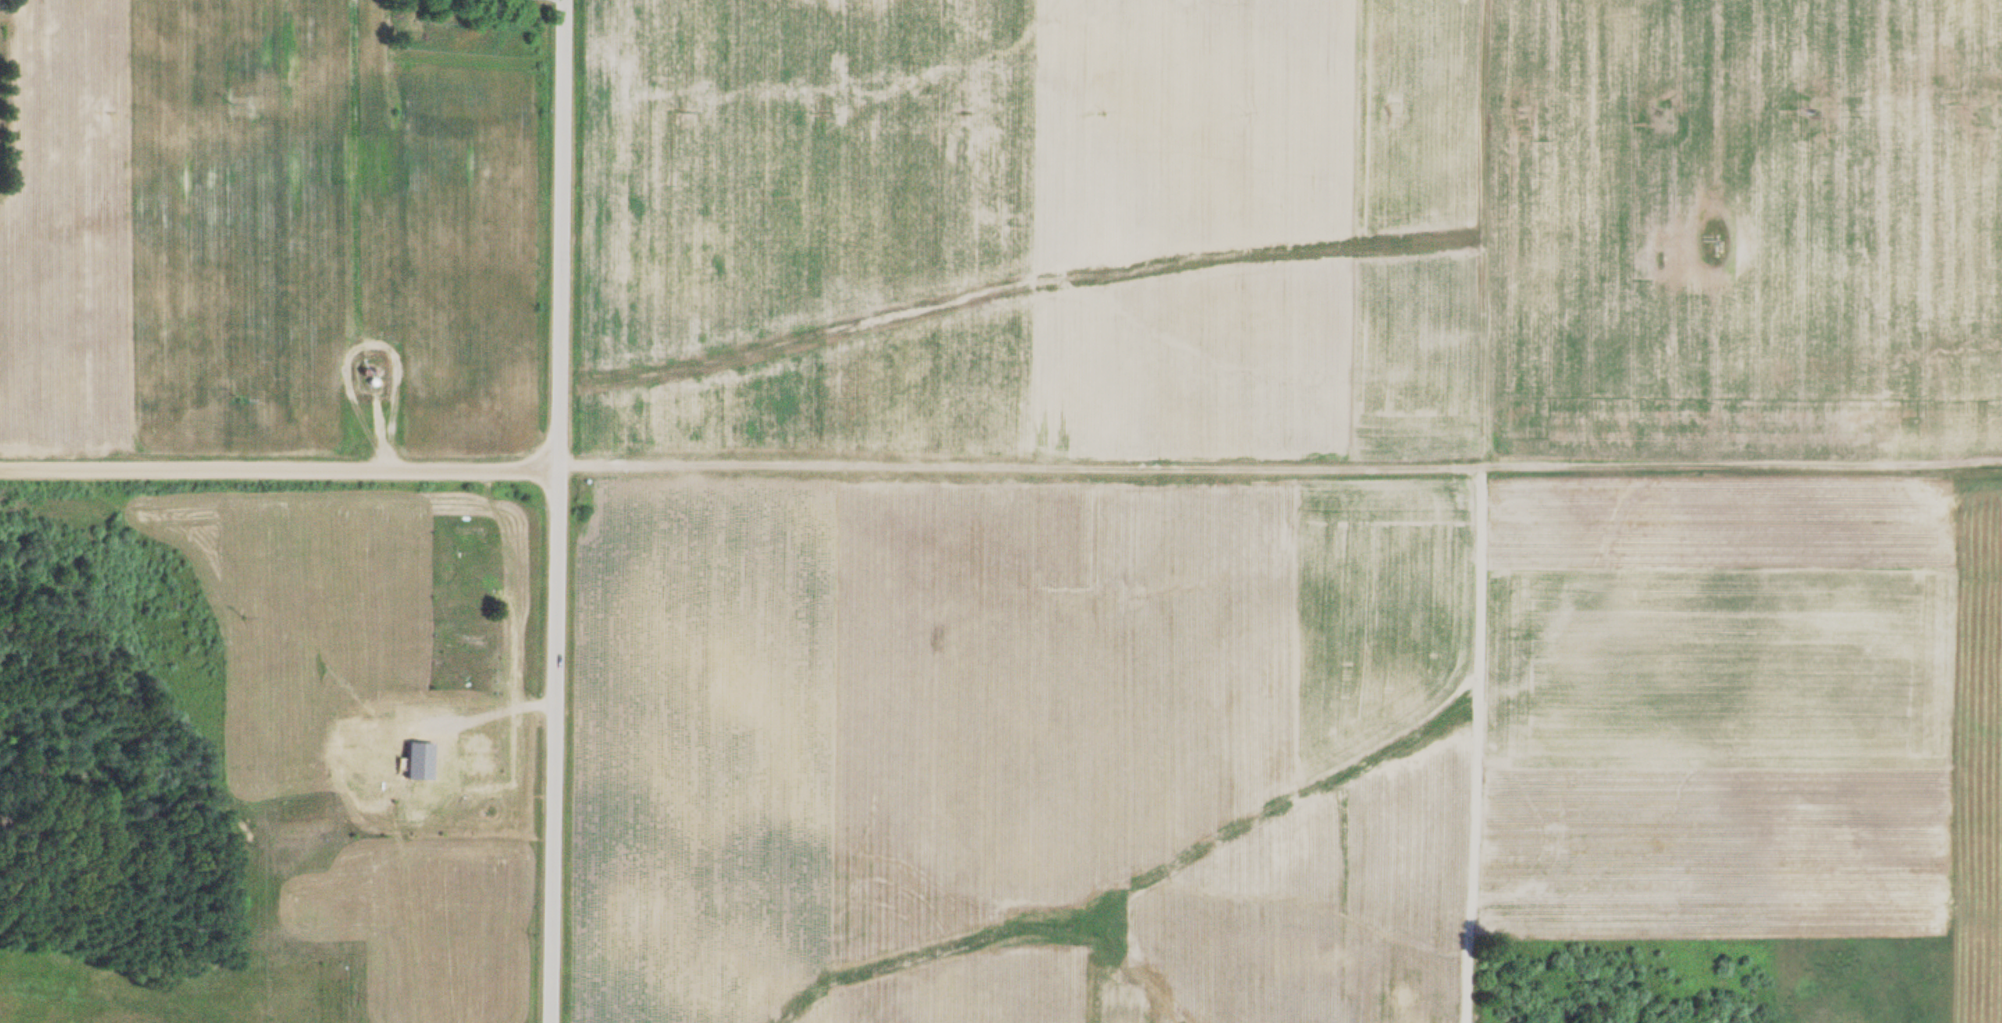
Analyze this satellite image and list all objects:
road: (1628, 240)
road: (269, 453)
road: (1269, 473)
road: (538, 511)
building: (468, 640)
building: (468, 755)

